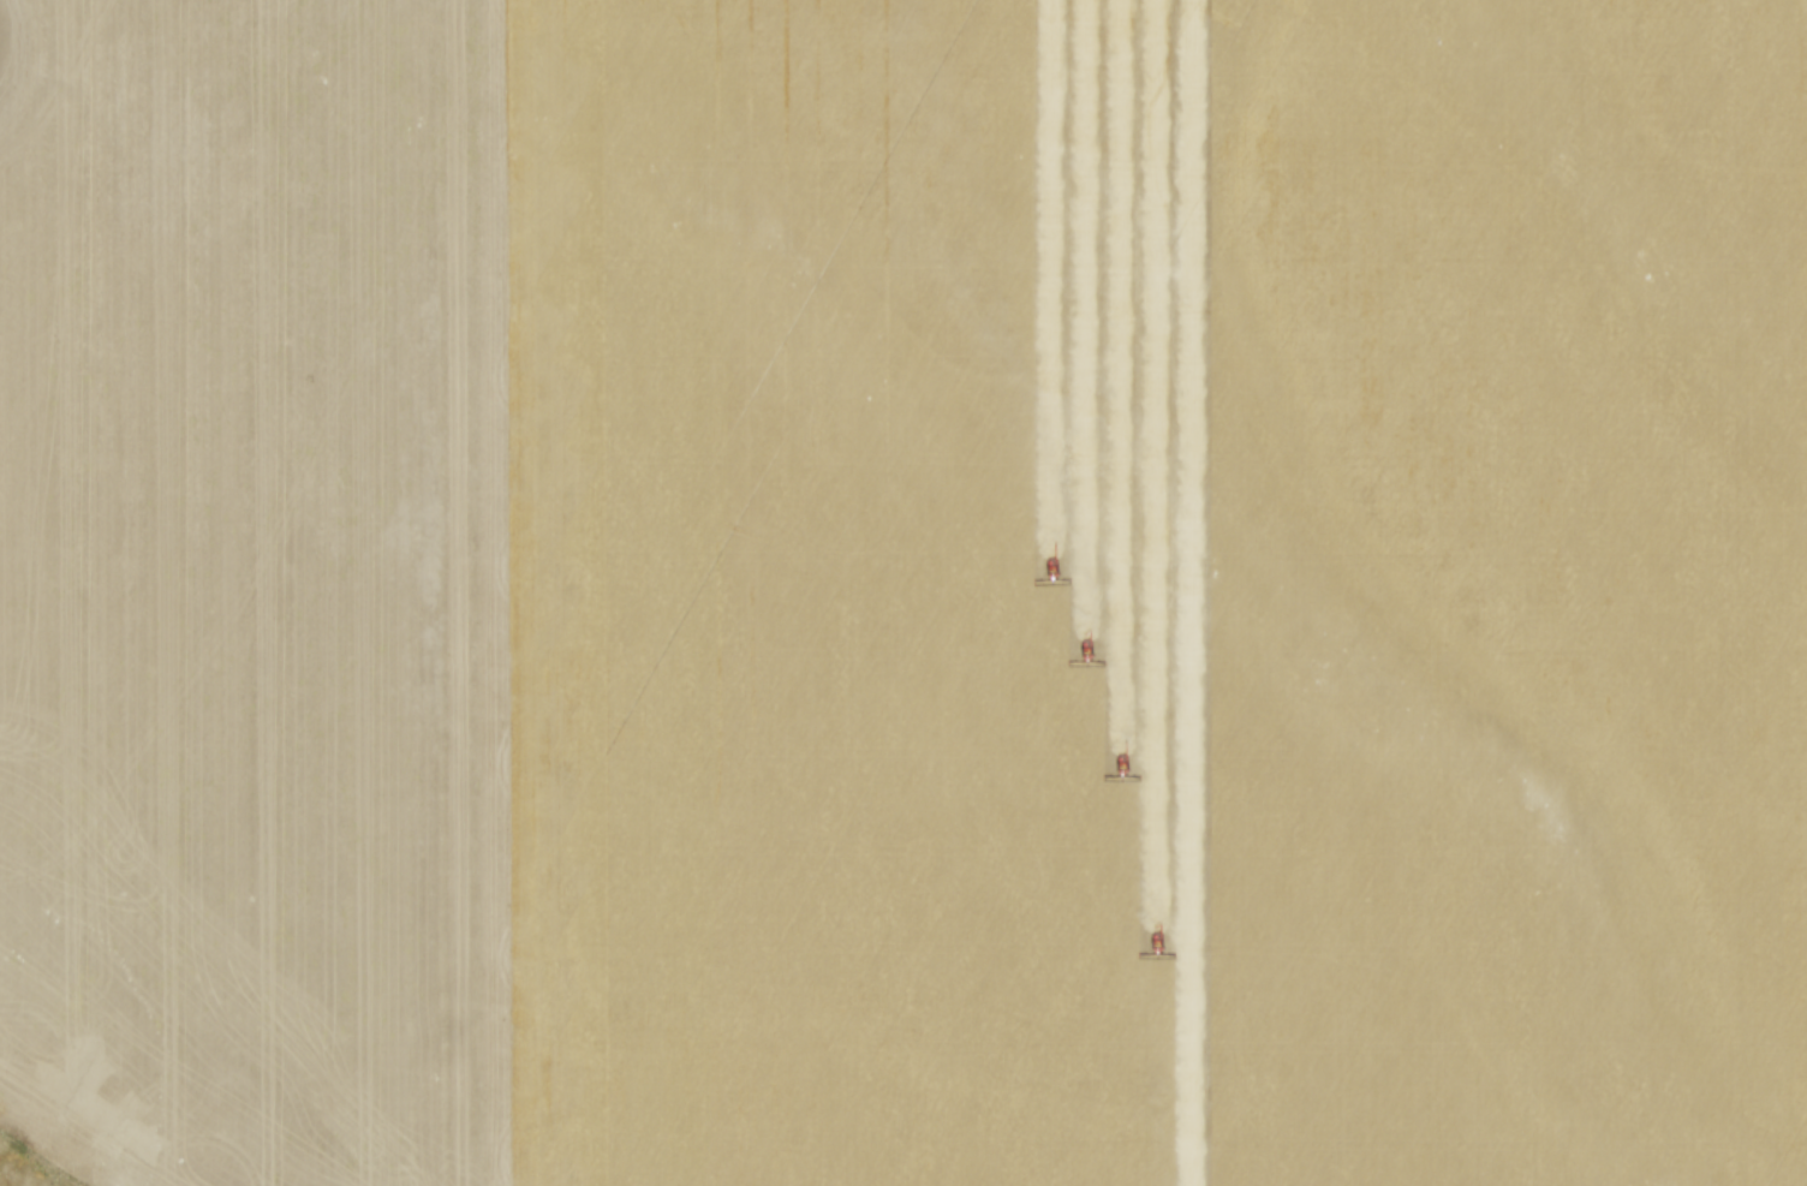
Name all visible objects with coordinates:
crop: (903, 591)

